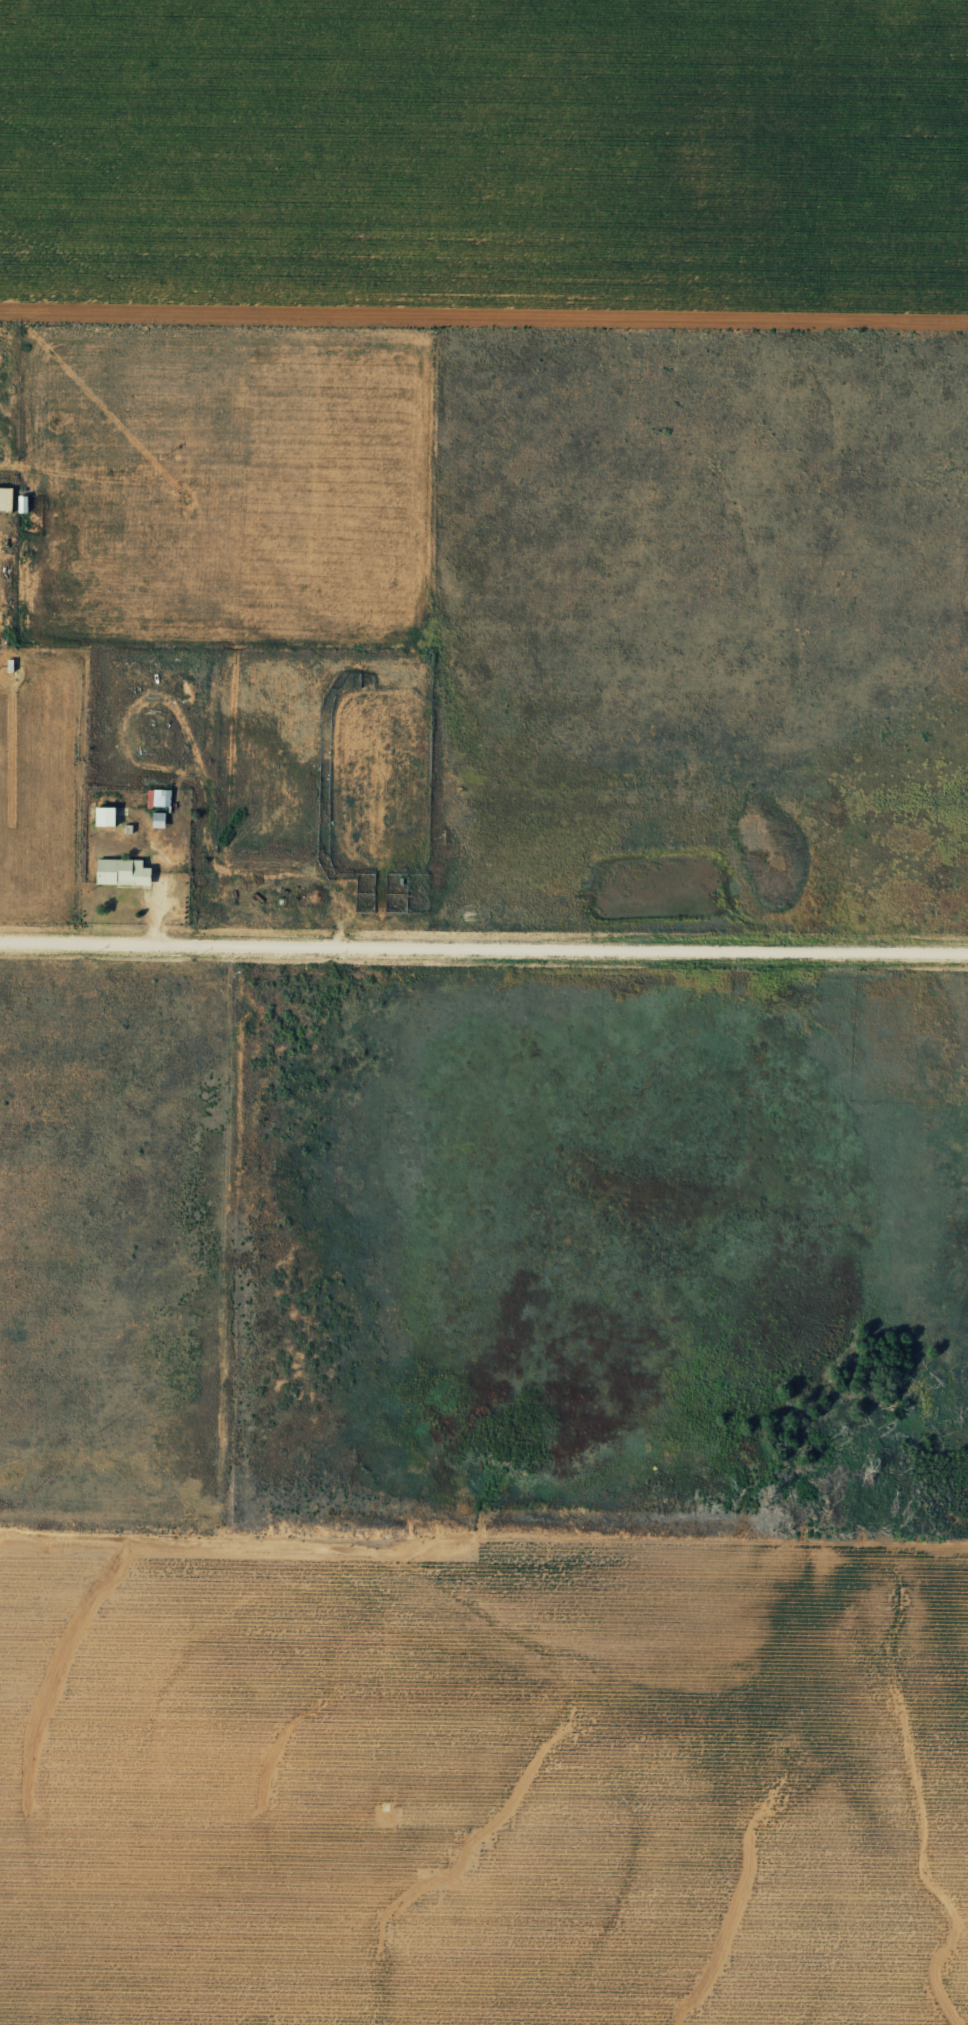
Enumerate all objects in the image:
building: (4, 499)
building: (22, 504)
building: (158, 798)
building: (158, 820)
building: (121, 872)
road: (484, 945)

